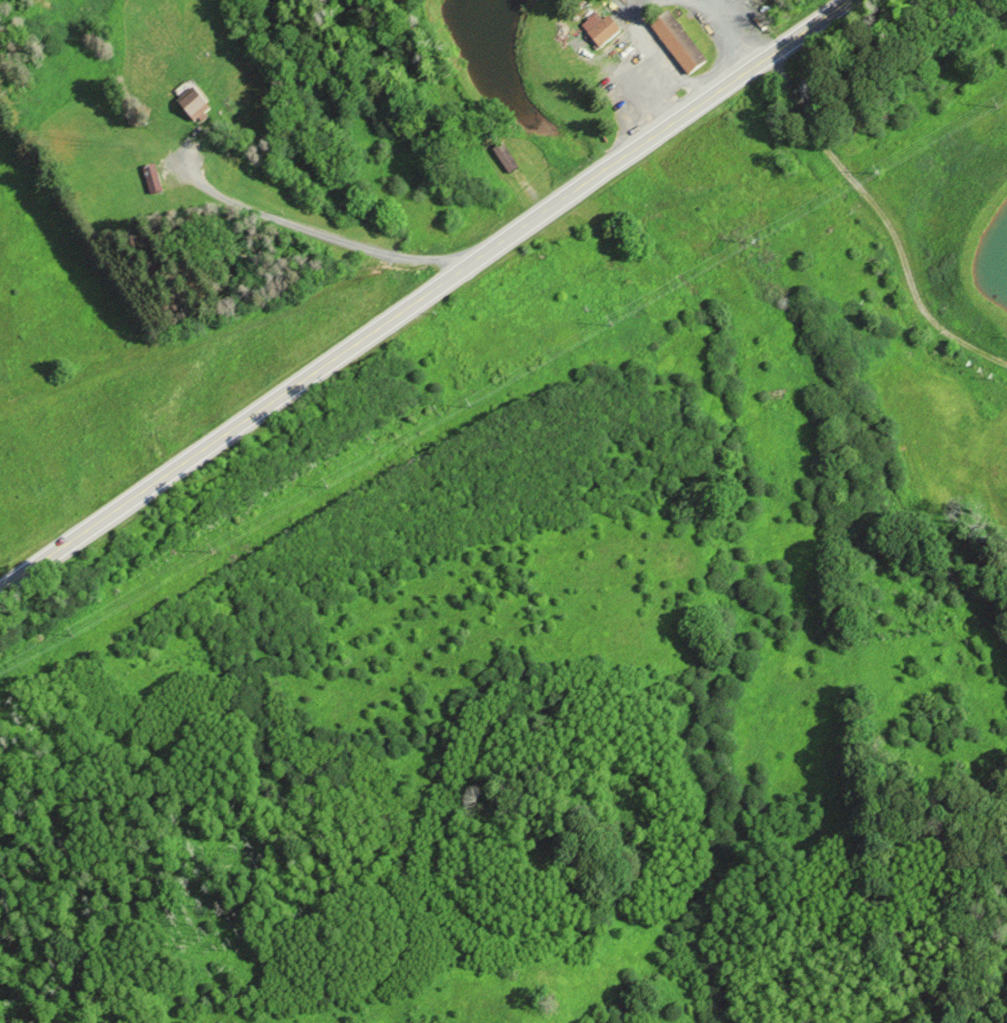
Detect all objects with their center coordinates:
building: (599, 31)
building: (673, 41)
building: (188, 105)
building: (501, 154)
building: (150, 177)
road: (883, 216)
road: (311, 227)
road: (422, 294)

